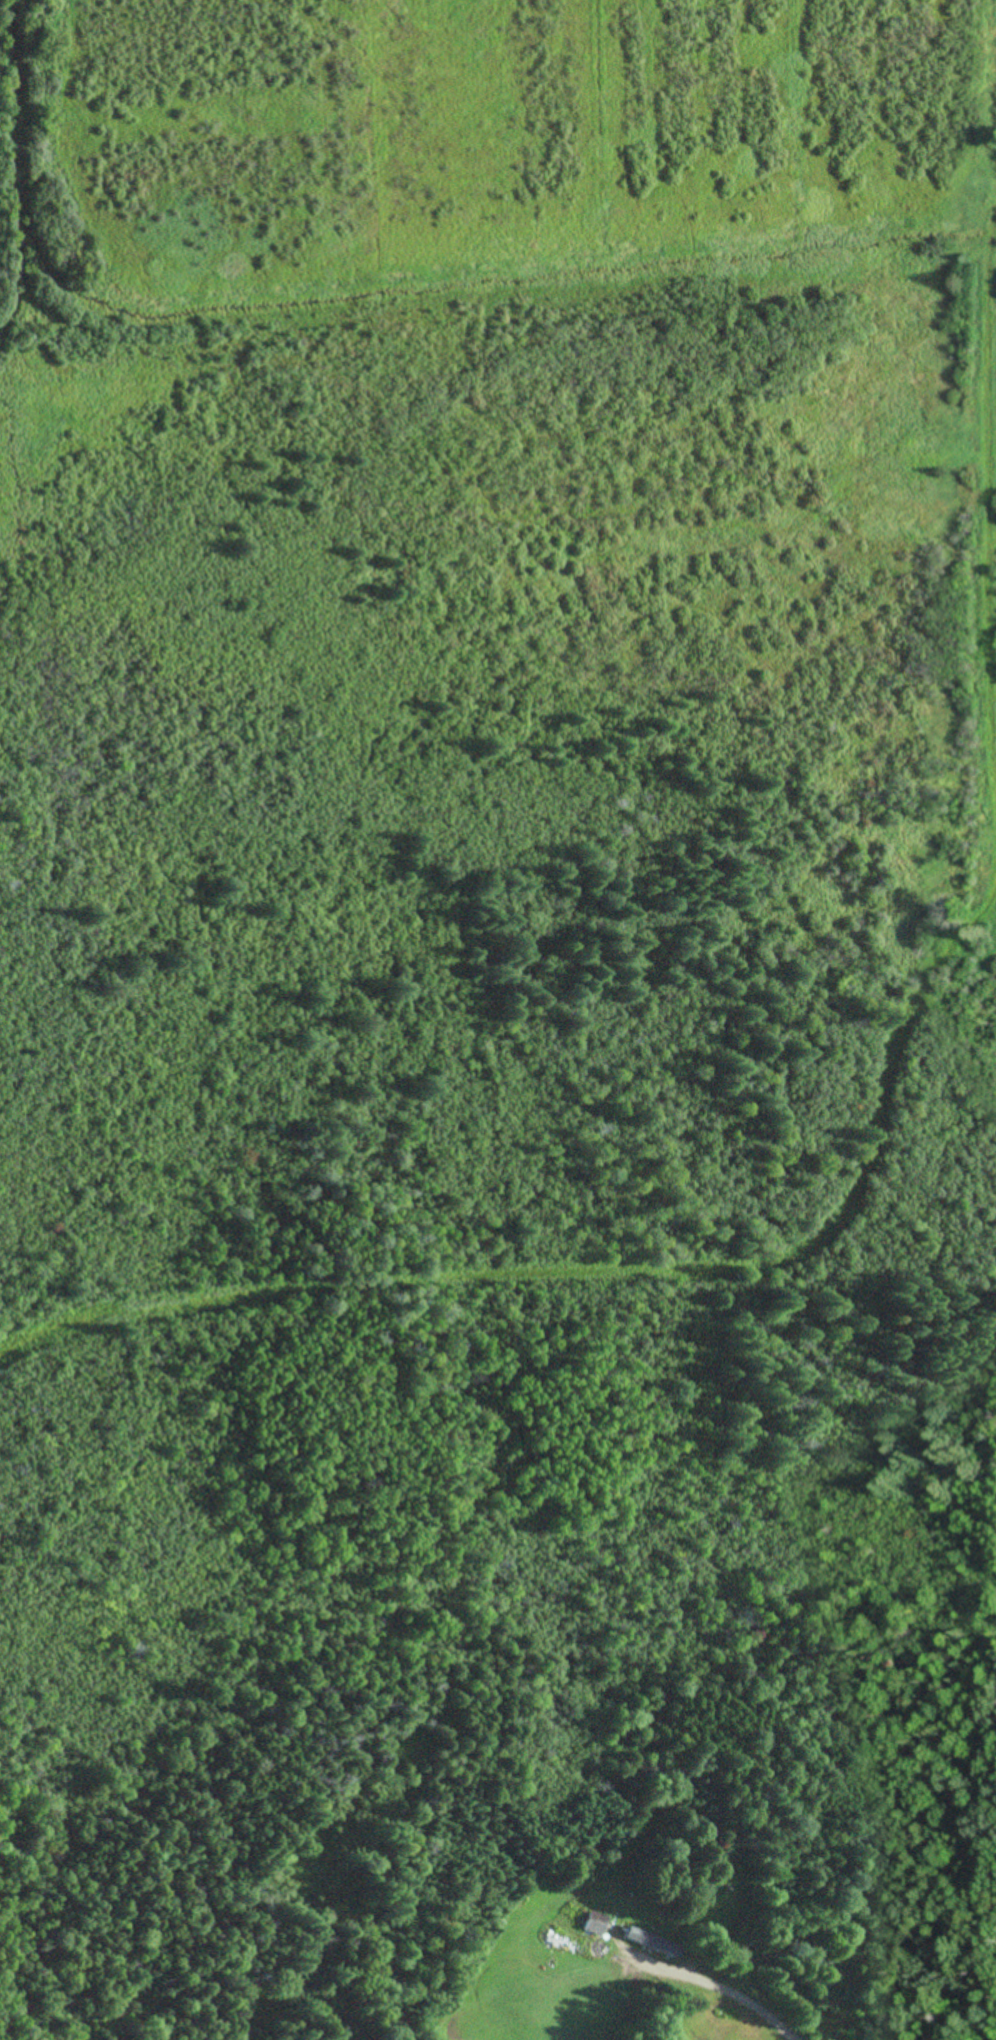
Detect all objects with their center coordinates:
building: (596, 1922)
building: (653, 1941)

